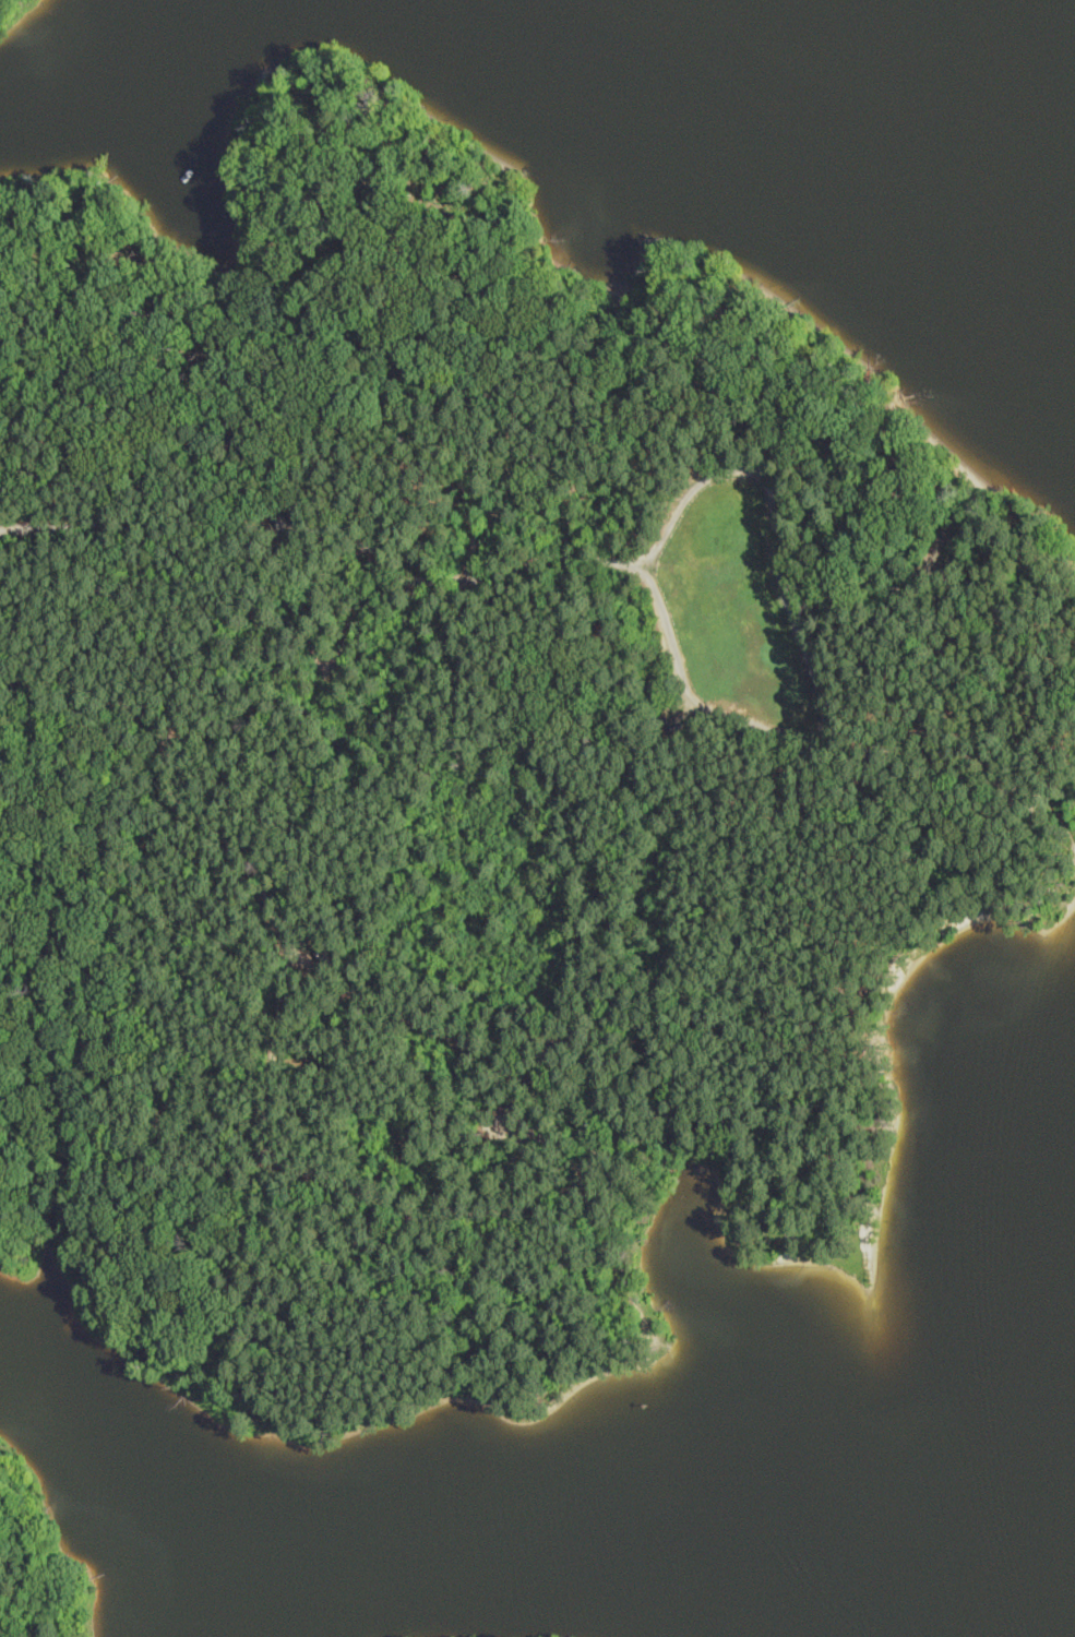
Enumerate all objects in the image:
park: (21, 16)
river: (849, 75)
river: (1018, 229)
road: (451, 417)
building: (279, 521)
road: (327, 536)
road: (809, 655)
building: (324, 662)
building: (677, 720)
park: (475, 778)
road: (166, 781)
building: (321, 949)
road: (515, 1203)
river: (1013, 1377)
park: (39, 1562)
river: (1047, 1576)

